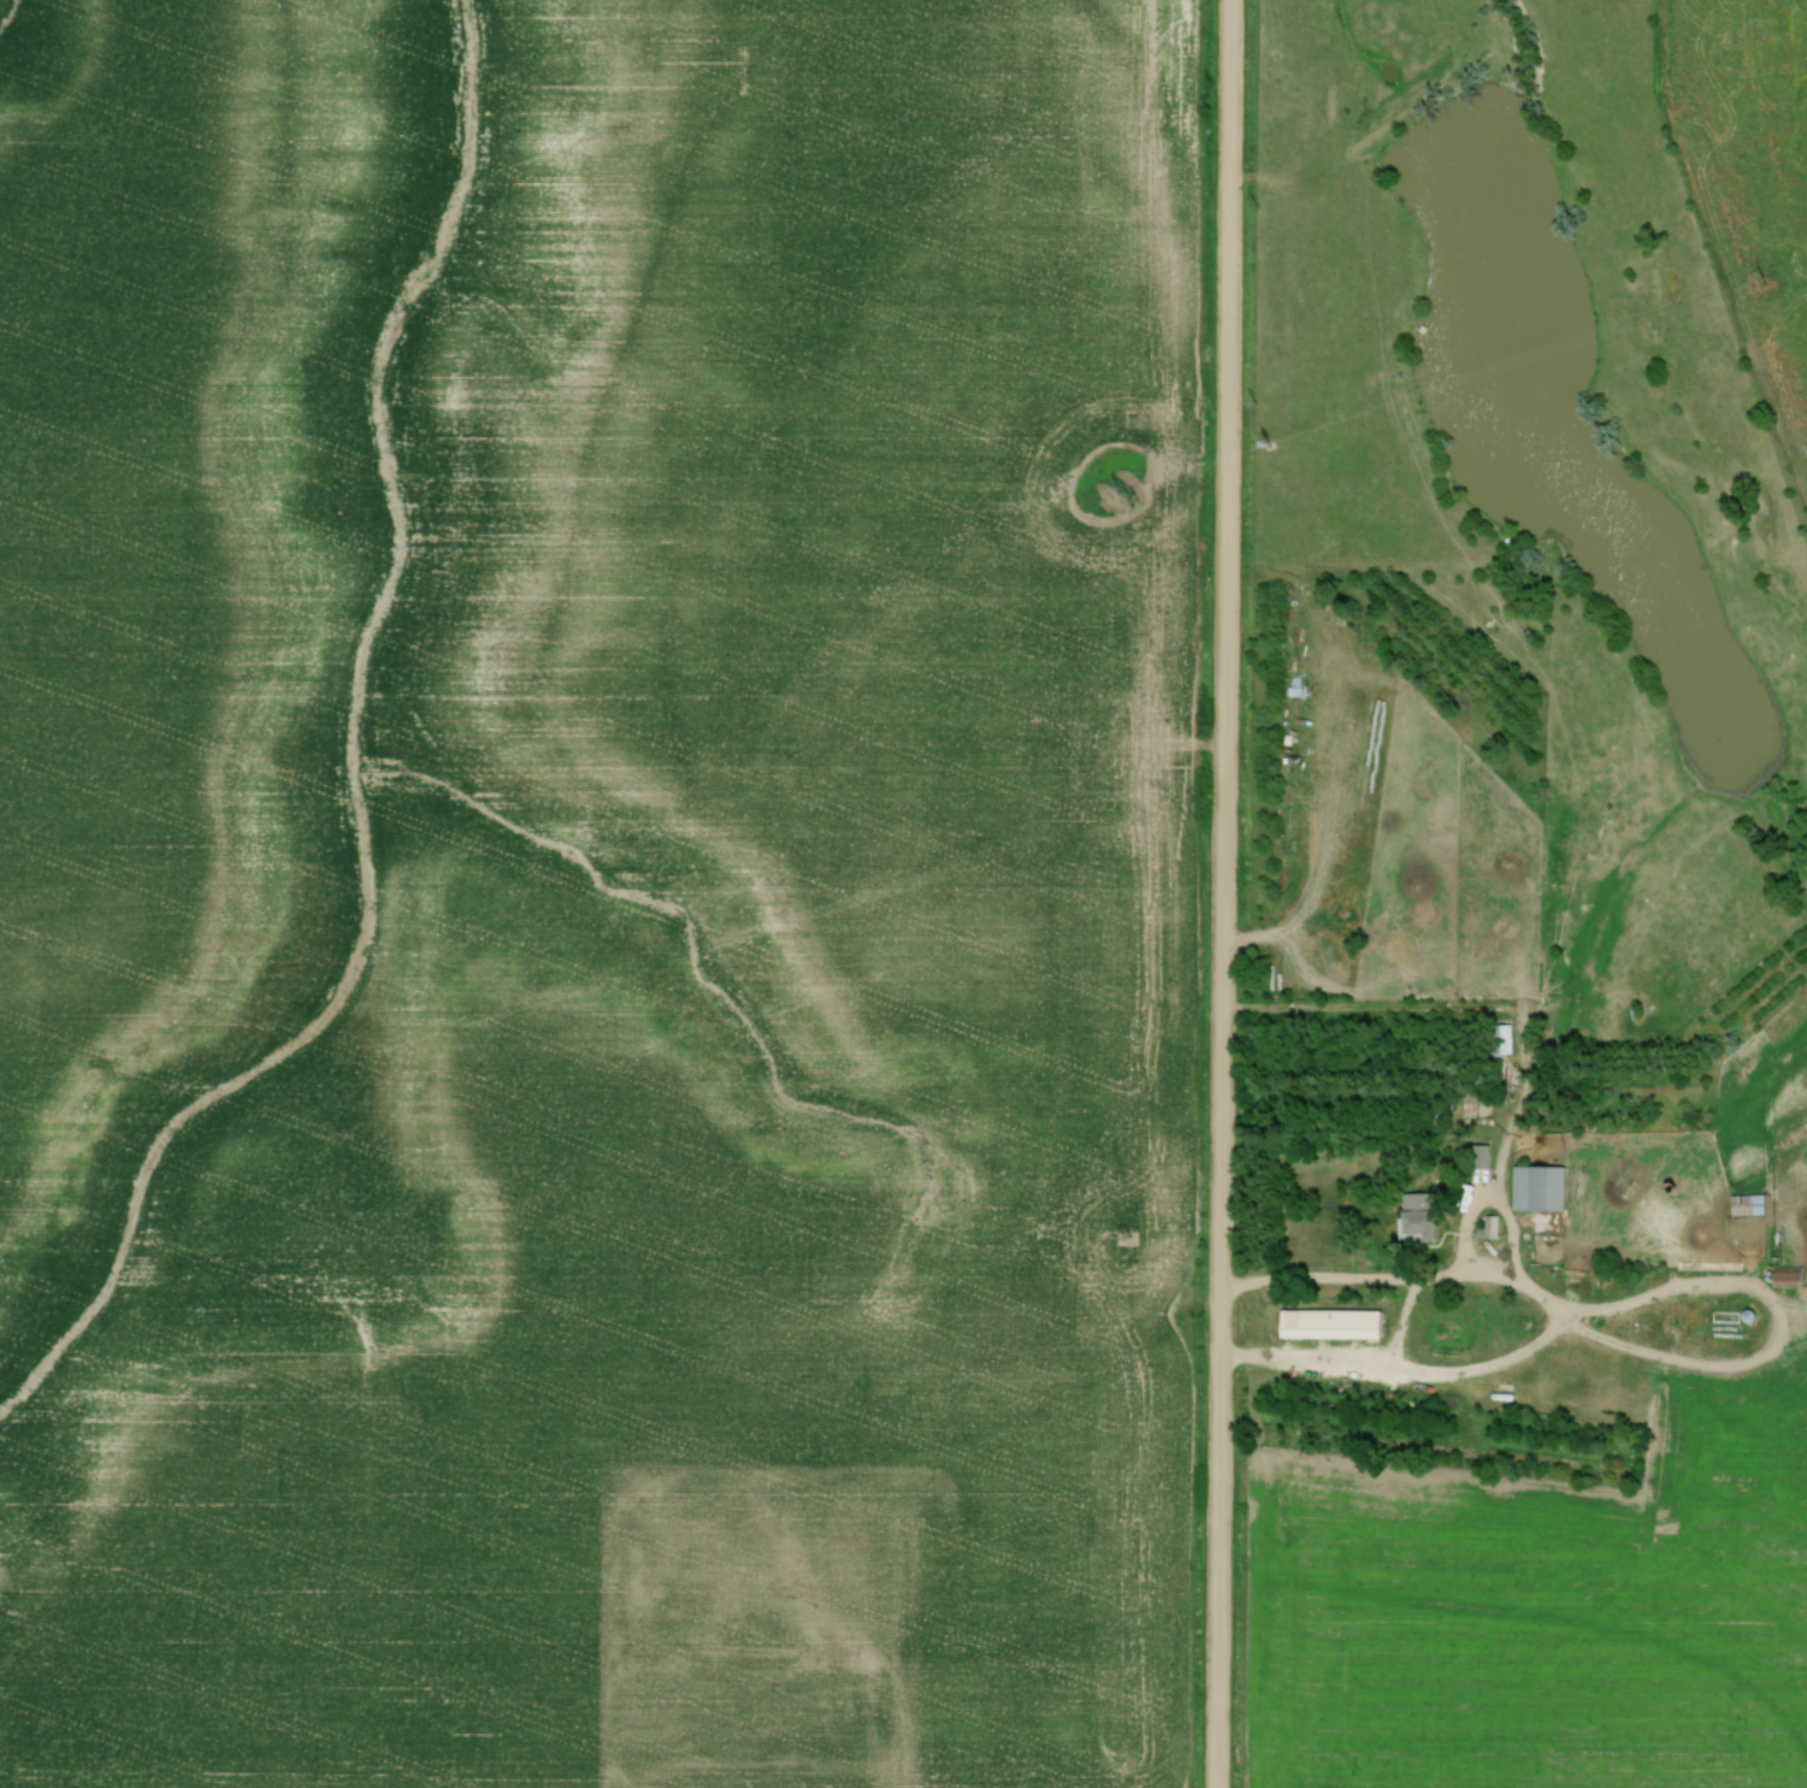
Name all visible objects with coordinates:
road: (1226, 893)
building: (1483, 956)
building: (1505, 1039)
road: (1486, 1181)
building: (1542, 1188)
building: (1752, 1205)
building: (1424, 1216)
building: (1791, 1276)
road: (1489, 1277)
building: (1728, 1316)
building: (1334, 1323)

